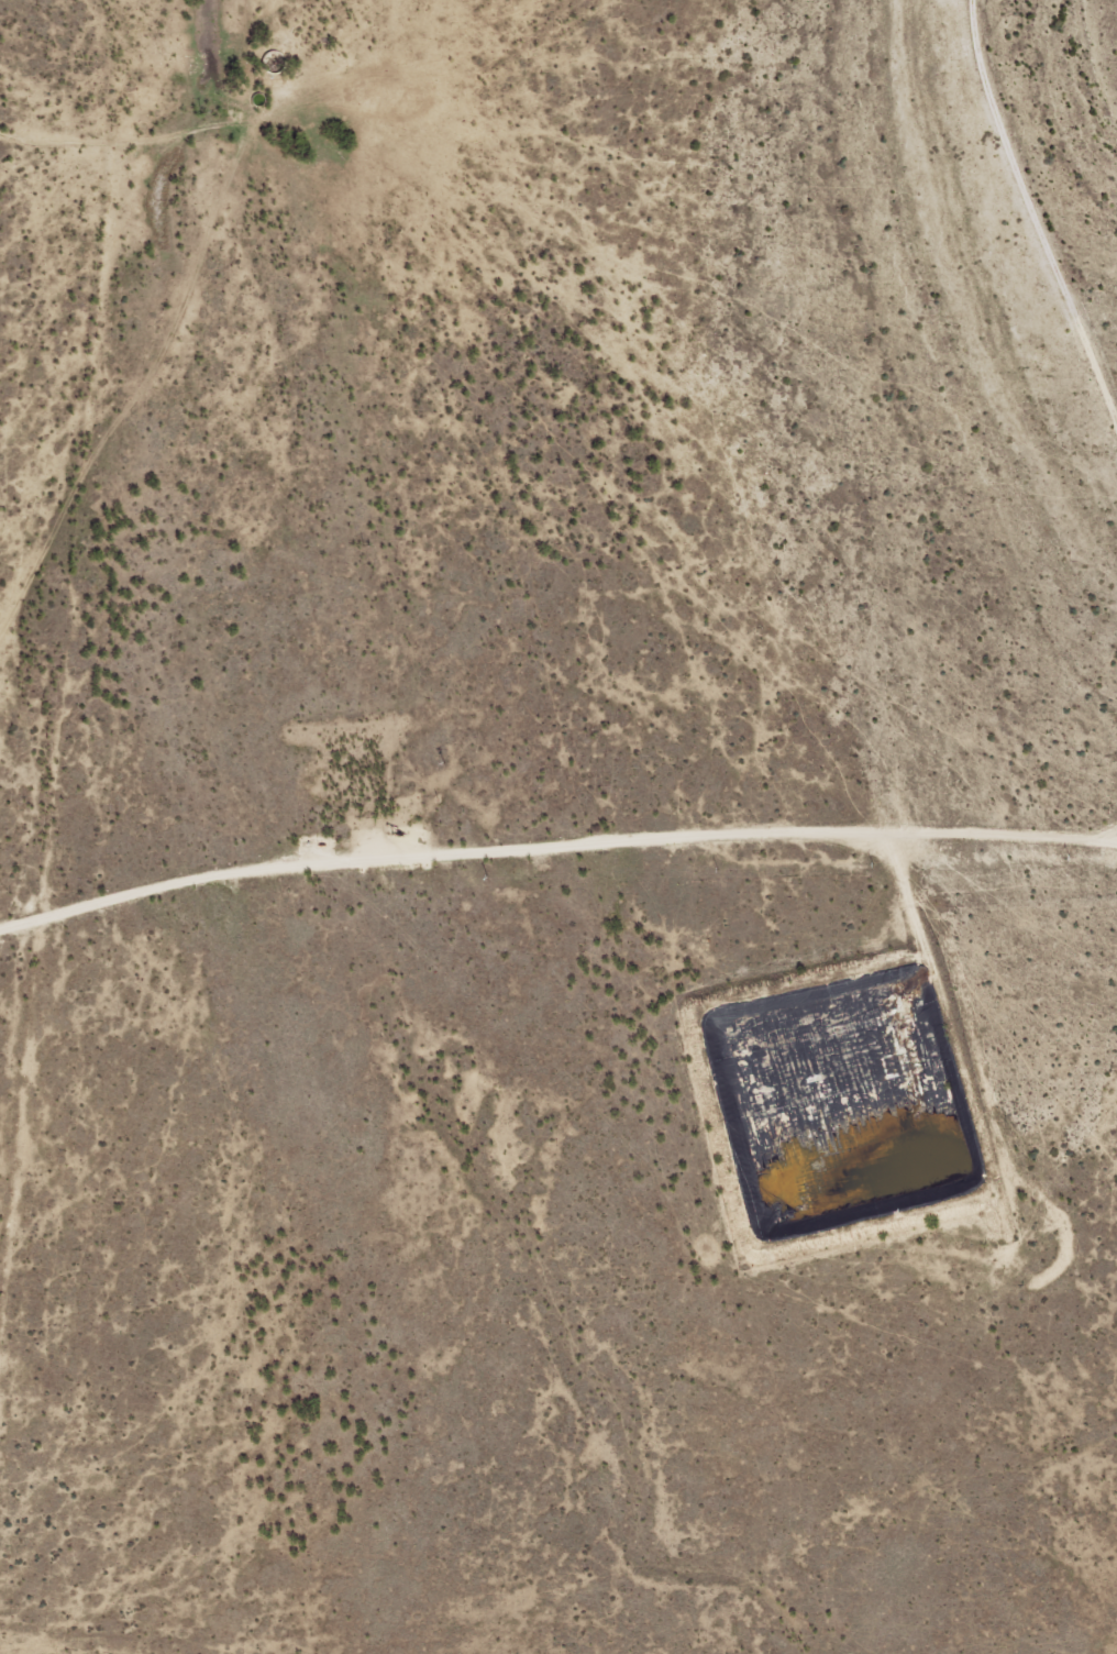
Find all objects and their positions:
road: (1003, 297)
road: (148, 453)
road: (11, 496)
road: (558, 858)

